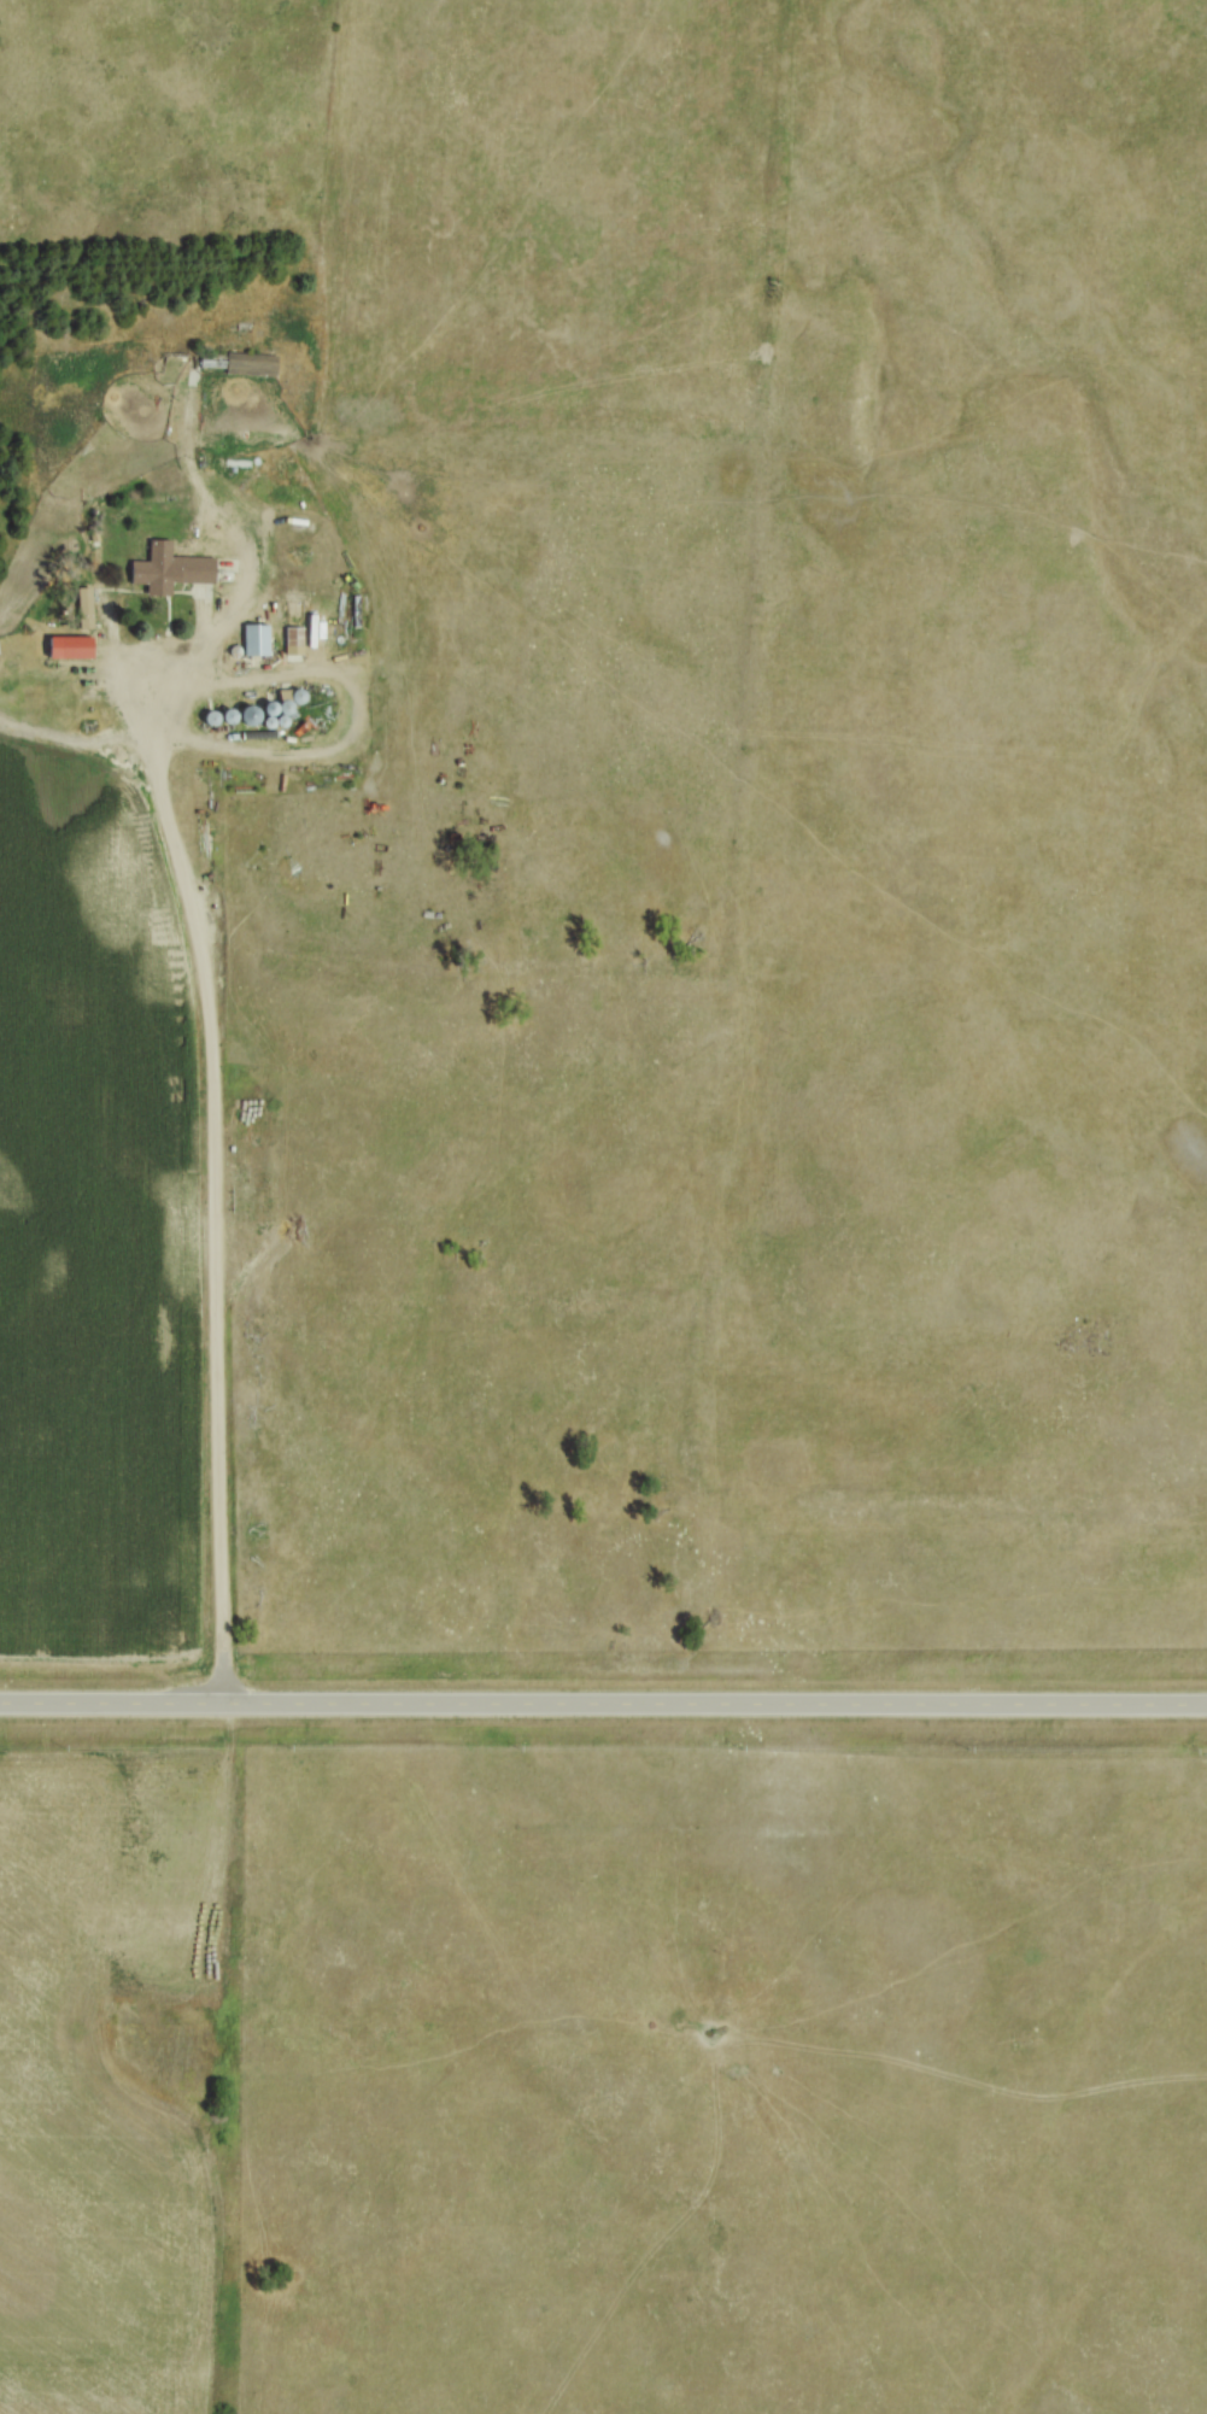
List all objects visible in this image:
building: (165, 572)
building: (81, 611)
building: (252, 643)
building: (292, 648)
building: (223, 719)
road: (212, 1165)
road: (603, 1704)

